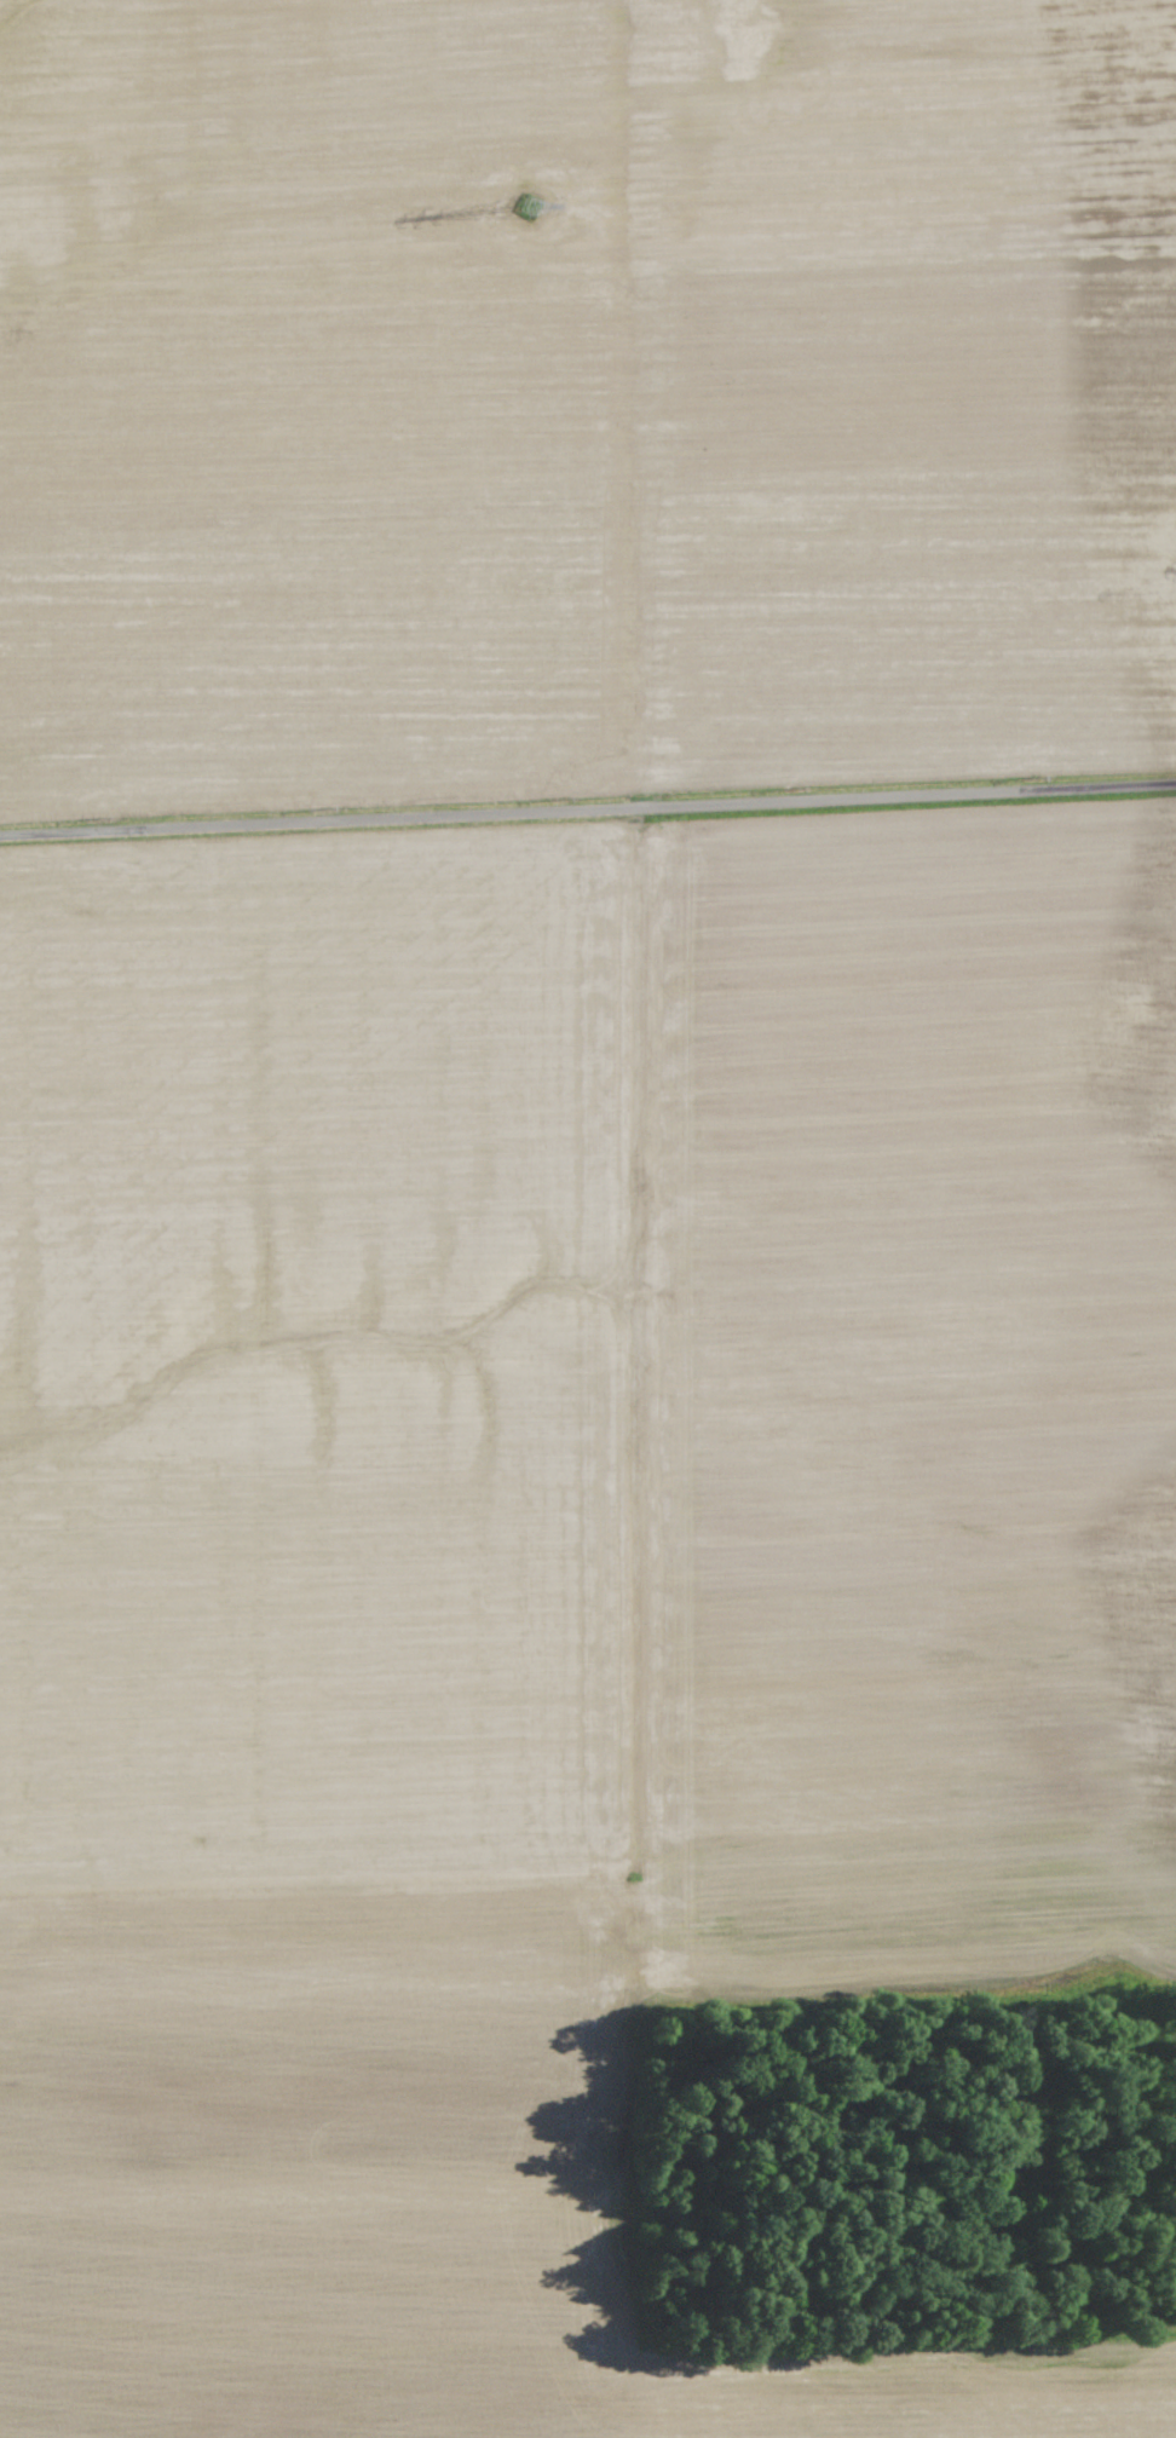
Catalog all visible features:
power tower: (515, 219)
road: (588, 799)

